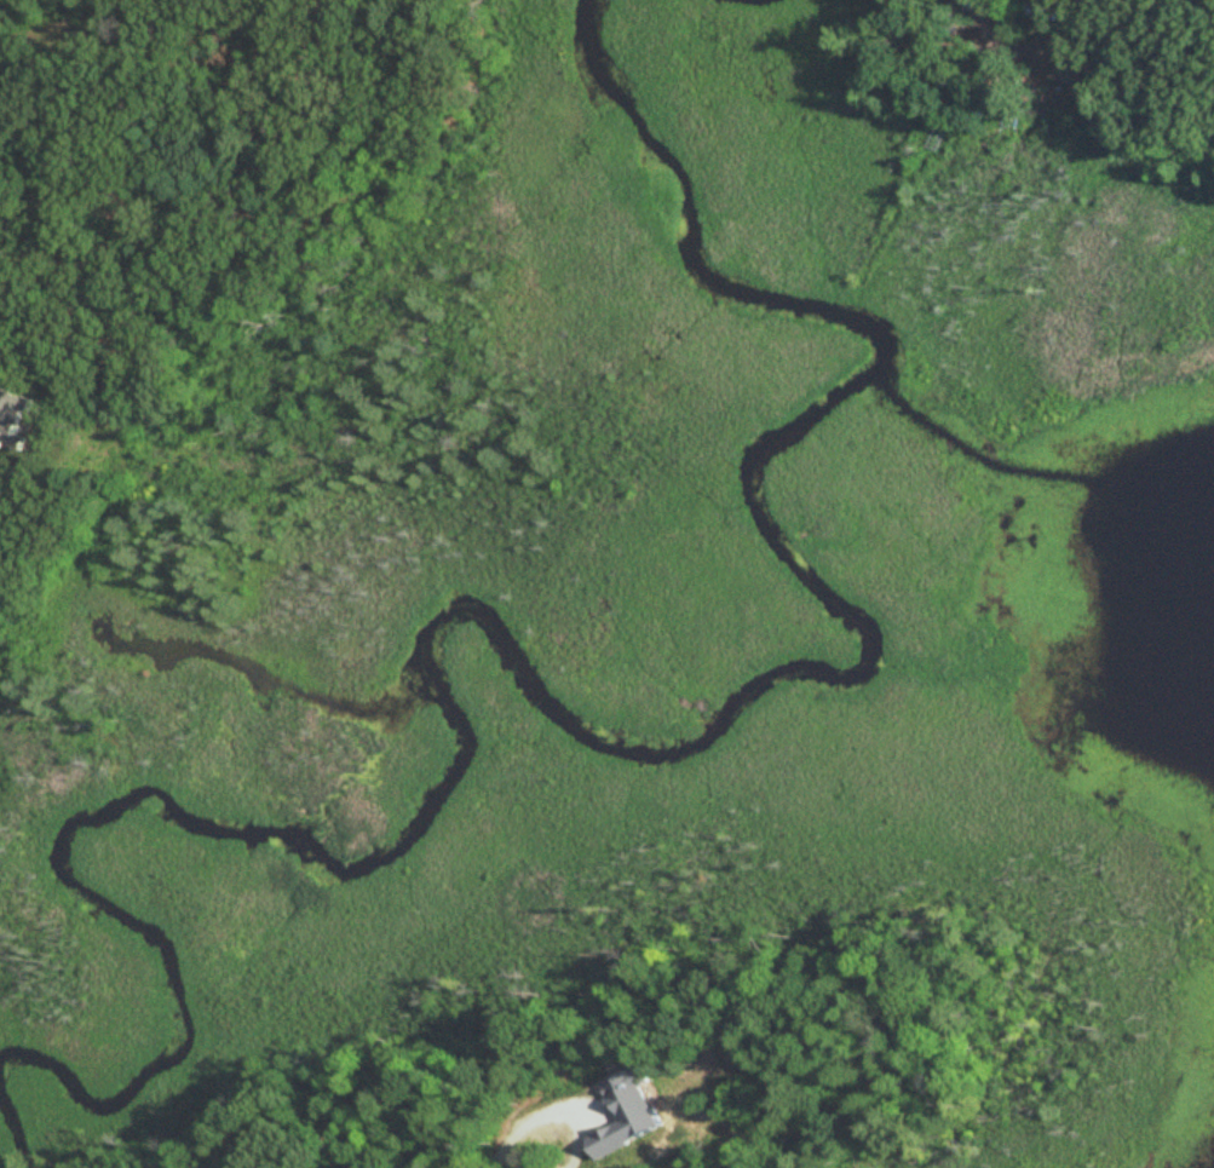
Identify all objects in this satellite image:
building: (1045, 5)
building: (13, 420)
building: (629, 1114)
road: (540, 1143)

